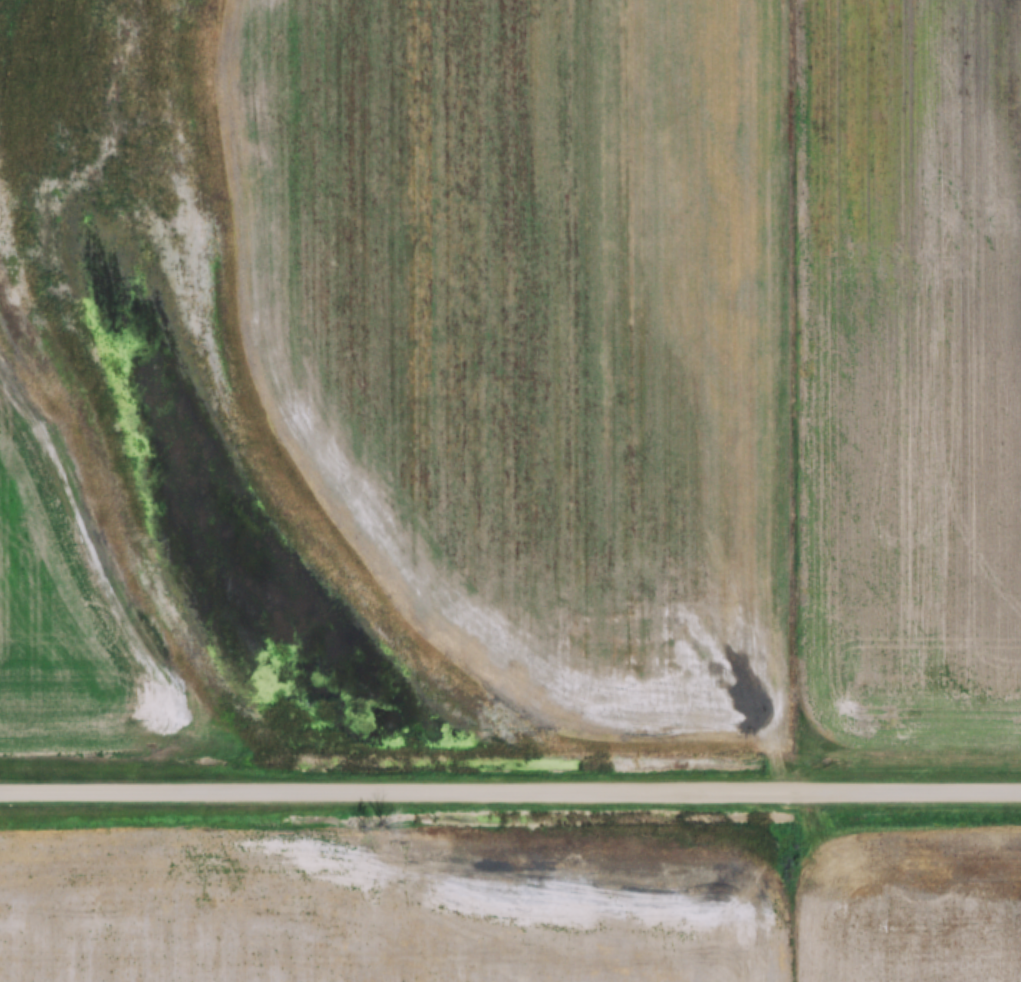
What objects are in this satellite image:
road: (510, 794)

